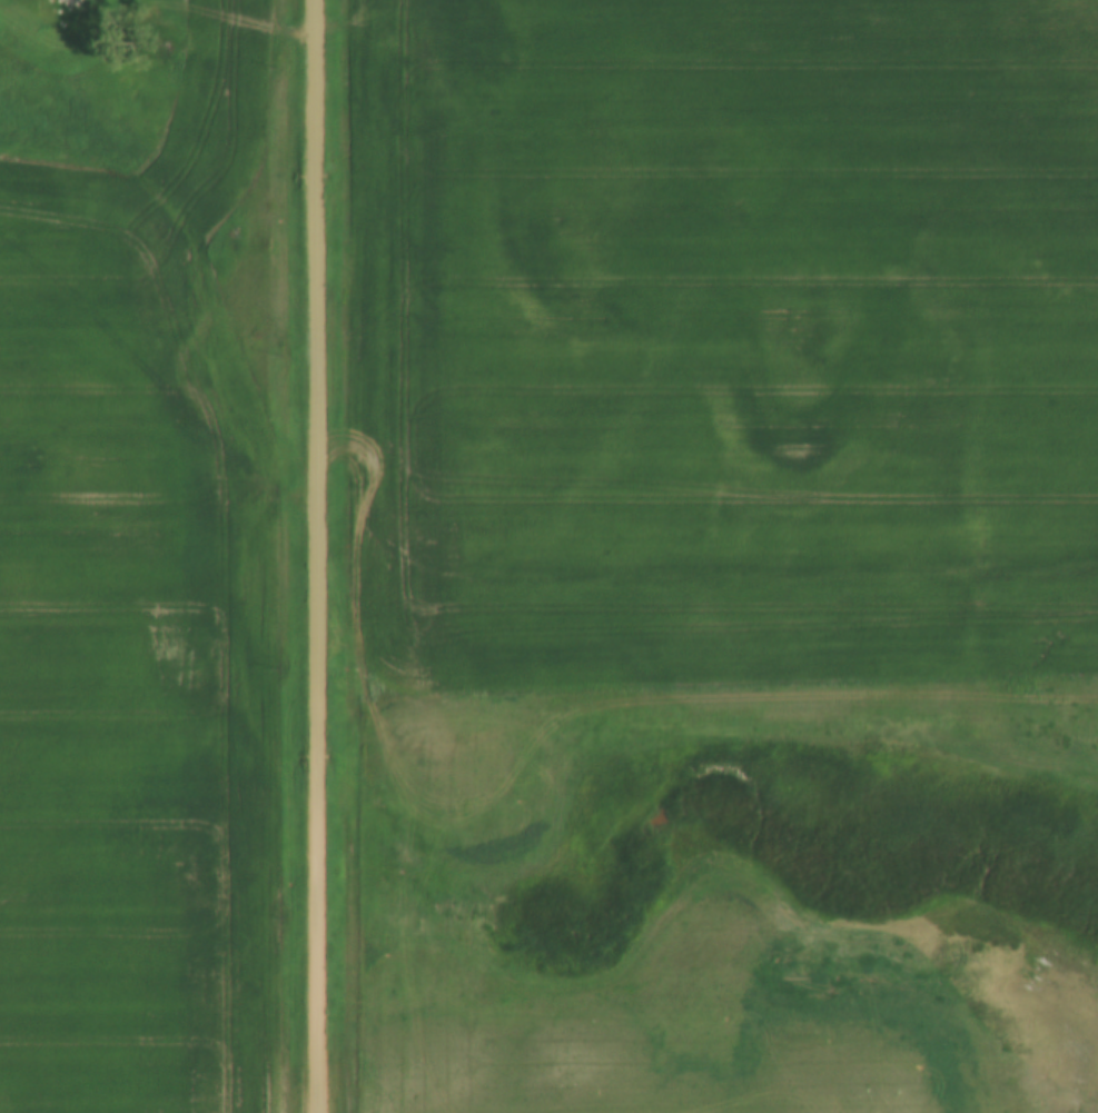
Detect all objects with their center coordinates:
road: (316, 556)

